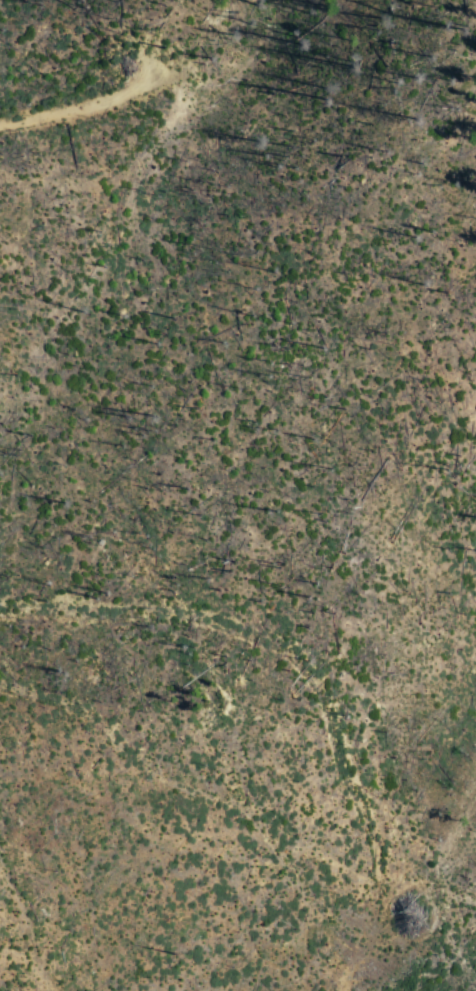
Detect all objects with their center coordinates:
road: (78, 109)

